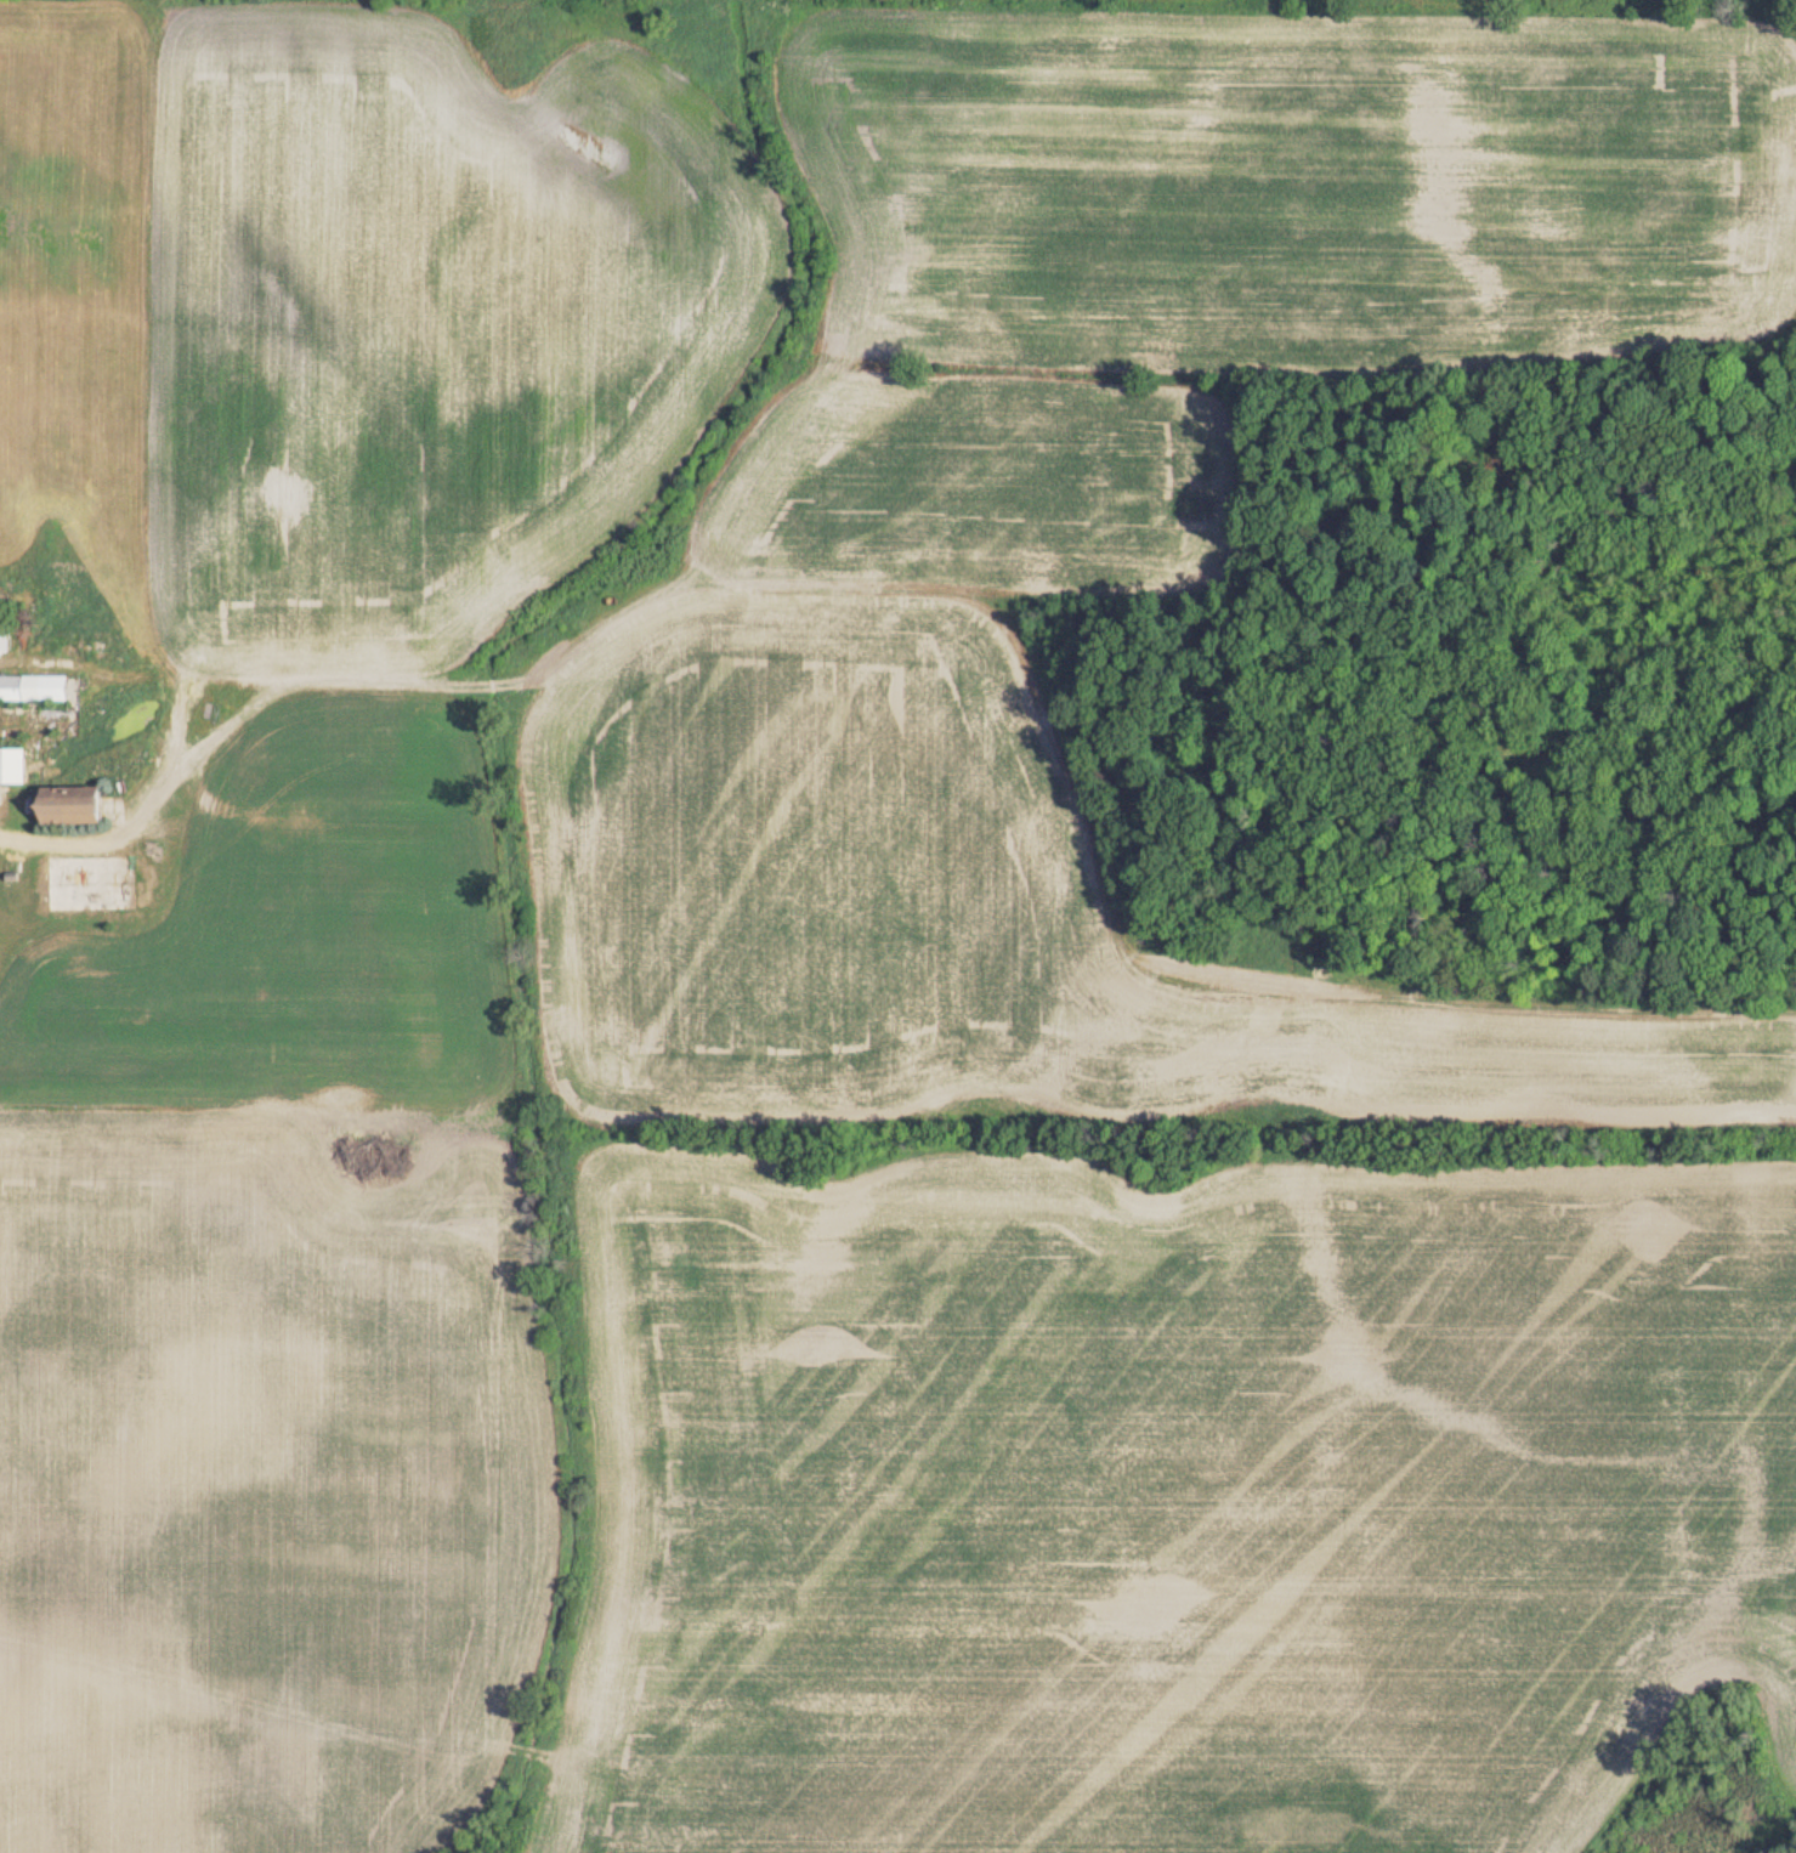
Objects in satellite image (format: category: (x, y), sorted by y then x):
building: (7, 634)
building: (26, 722)
building: (84, 809)
road: (92, 843)

